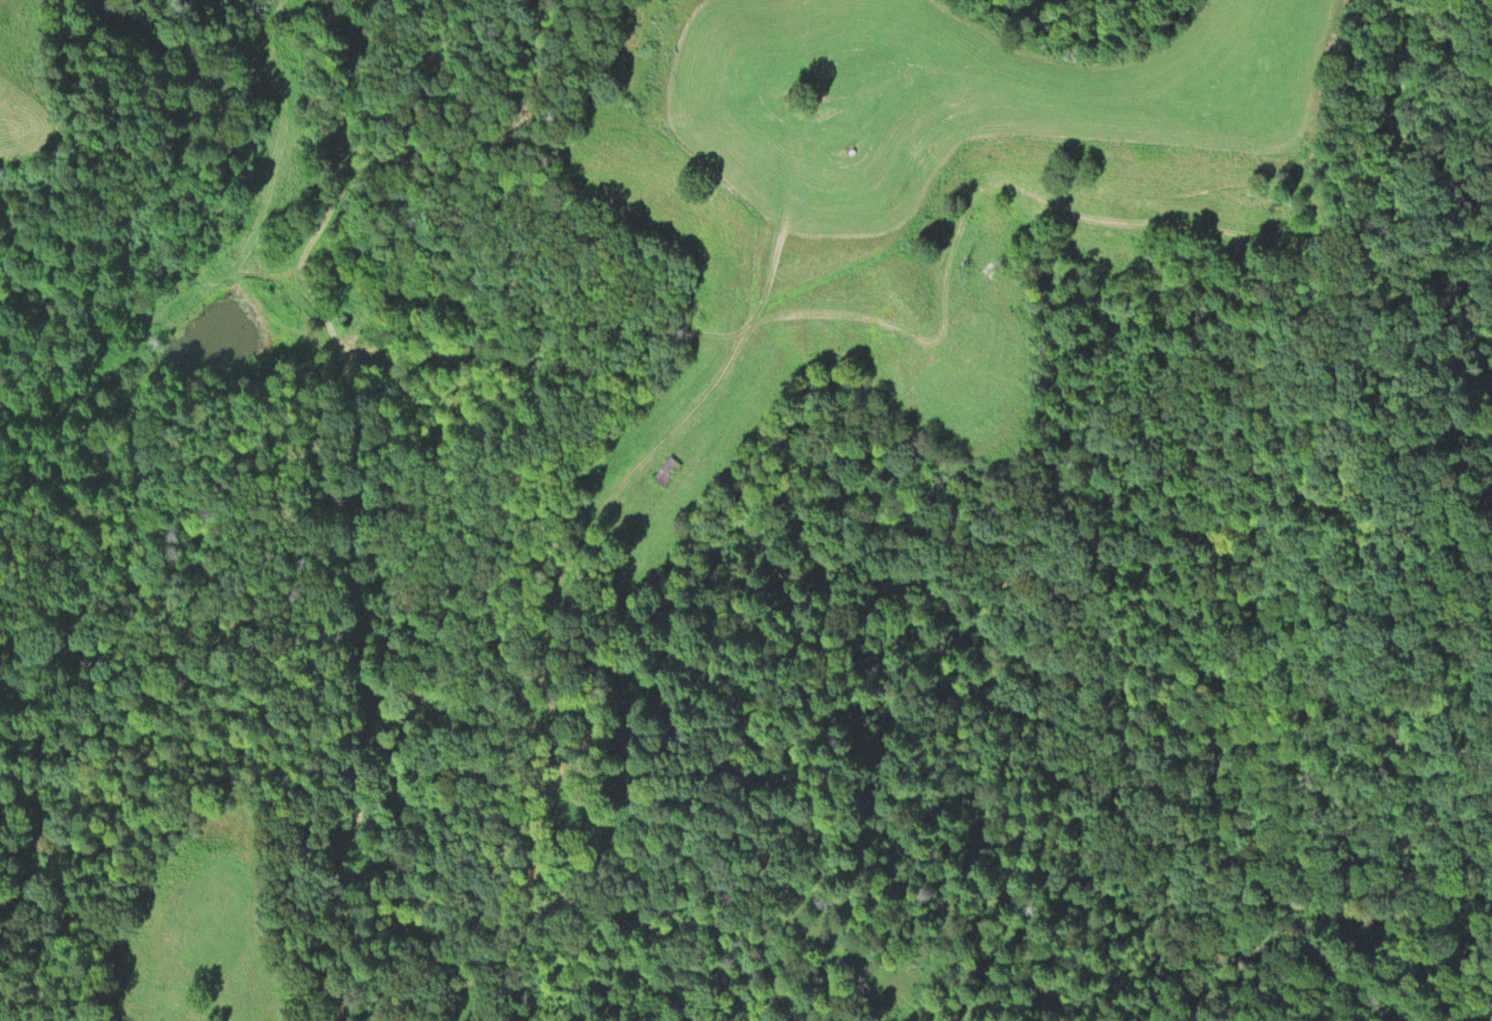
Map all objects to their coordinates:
road: (227, 137)
road: (279, 155)
building: (667, 469)
road: (357, 505)
road: (552, 616)
road: (461, 990)

